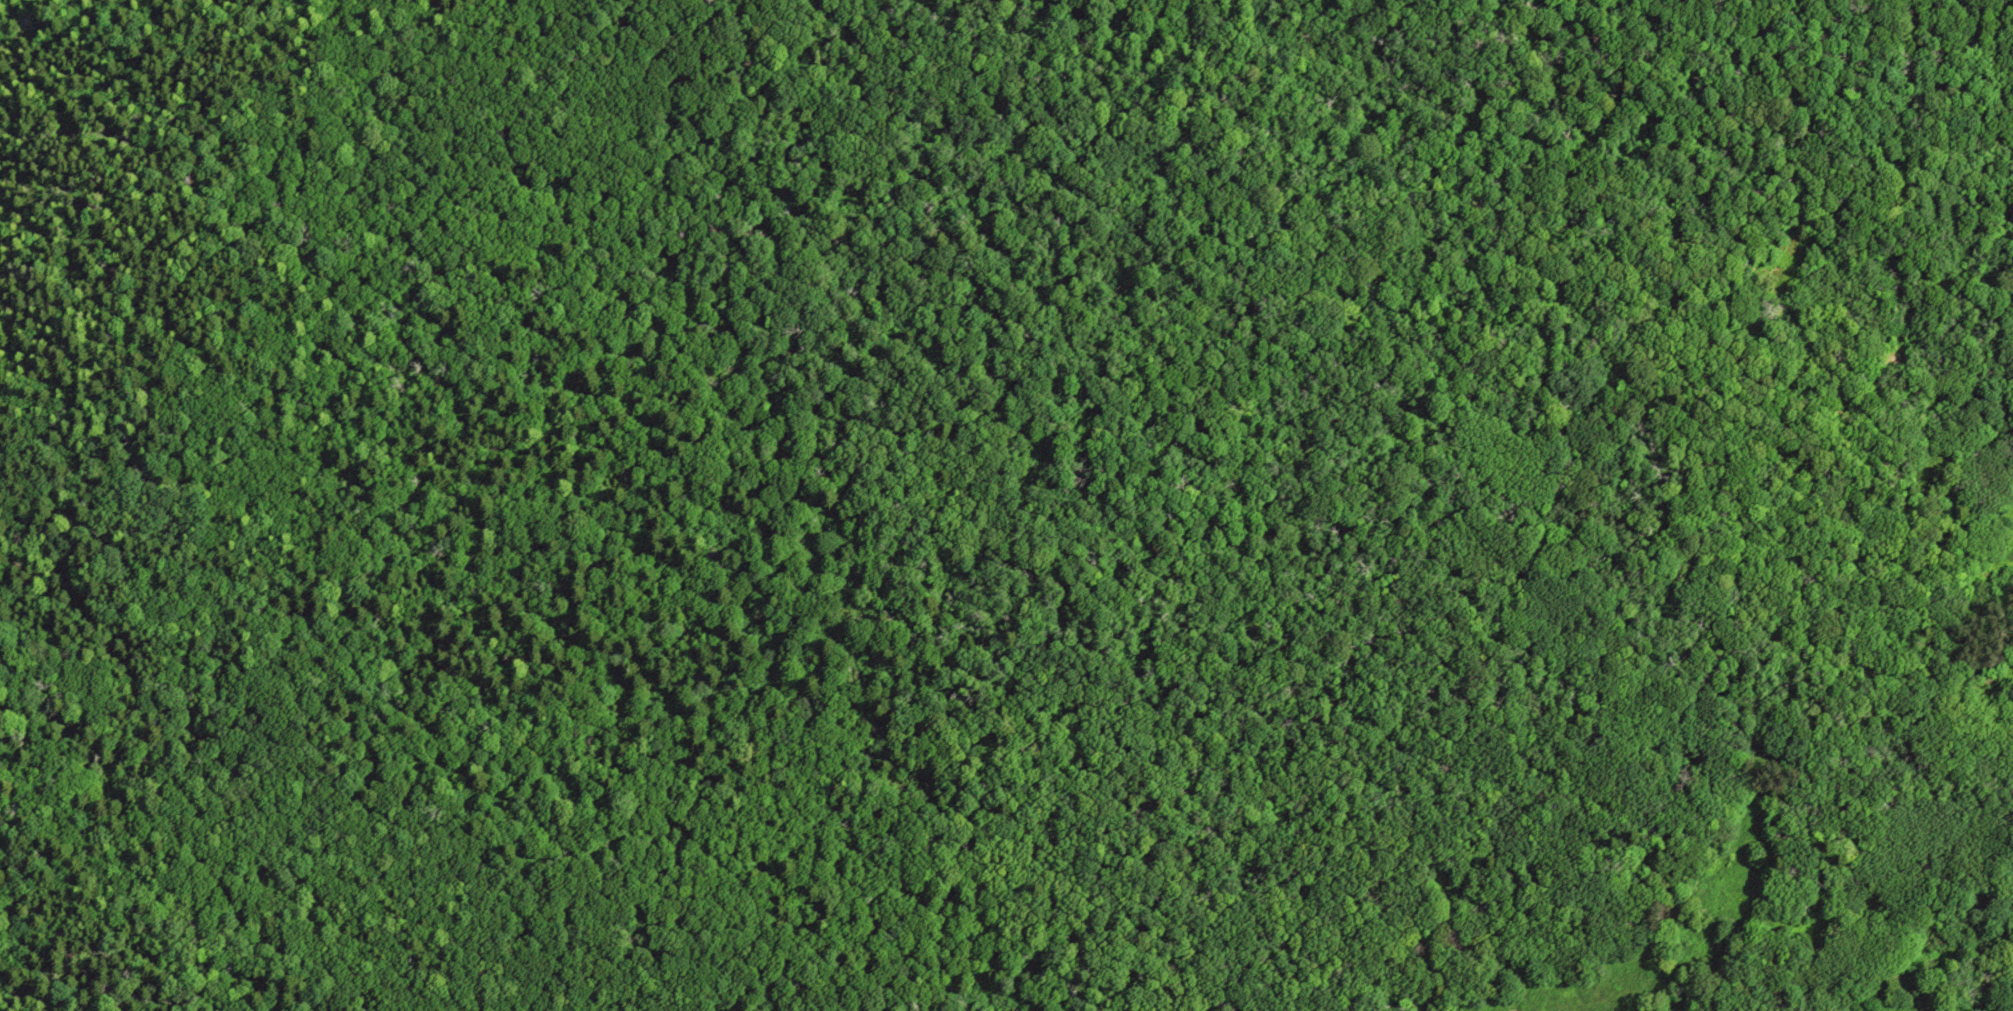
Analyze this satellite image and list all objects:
road: (135, 536)
road: (1962, 624)

